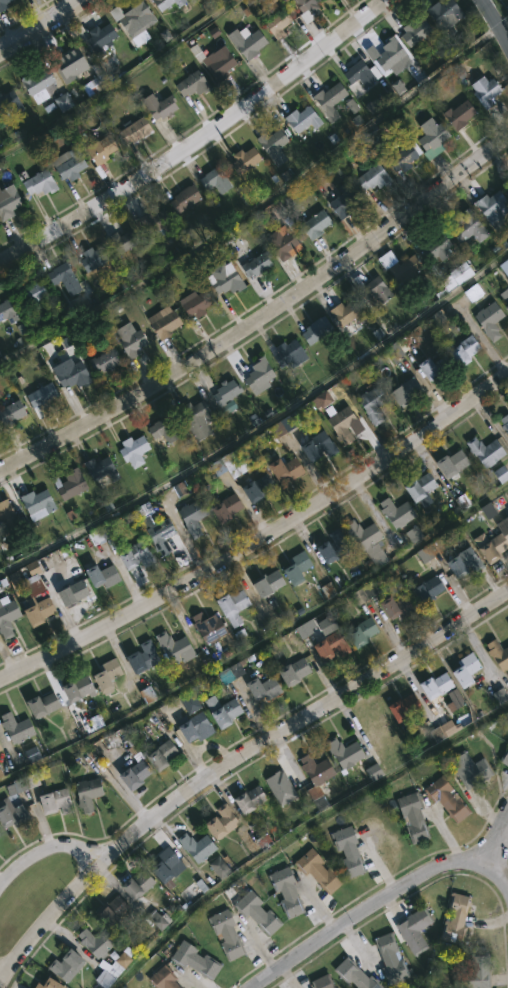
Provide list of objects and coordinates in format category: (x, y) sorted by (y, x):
building: (169, 4)
building: (4, 5)
building: (309, 9)
building: (446, 12)
road: (496, 20)
building: (136, 22)
building: (280, 23)
road: (40, 25)
building: (417, 30)
building: (165, 35)
building: (103, 37)
building: (249, 43)
building: (387, 52)
building: (71, 64)
building: (220, 64)
building: (361, 72)
building: (97, 83)
building: (39, 84)
building: (194, 84)
building: (397, 87)
building: (487, 90)
building: (332, 99)
building: (10, 102)
building: (63, 102)
building: (161, 105)
building: (351, 106)
building: (373, 106)
building: (462, 114)
building: (305, 118)
building: (137, 129)
building: (434, 137)
road: (199, 140)
building: (275, 145)
building: (104, 148)
building: (404, 158)
building: (246, 159)
building: (70, 163)
building: (375, 176)
building: (217, 180)
building: (507, 181)
building: (42, 182)
building: (187, 197)
building: (345, 199)
building: (9, 200)
building: (494, 205)
building: (158, 221)
building: (317, 224)
building: (471, 226)
building: (125, 240)
building: (283, 242)
building: (437, 245)
building: (95, 257)
building: (260, 263)
building: (505, 266)
building: (407, 269)
building: (460, 274)
building: (66, 277)
building: (227, 278)
building: (375, 290)
building: (473, 292)
building: (32, 293)
building: (505, 294)
building: (197, 303)
building: (8, 311)
building: (350, 311)
road: (262, 317)
building: (492, 319)
building: (166, 322)
building: (319, 330)
building: (132, 339)
building: (399, 347)
building: (467, 350)
building: (291, 354)
building: (106, 360)
building: (439, 367)
building: (73, 374)
building: (261, 375)
building: (408, 390)
building: (227, 394)
building: (43, 397)
building: (320, 400)
building: (374, 402)
building: (12, 413)
building: (198, 418)
building: (504, 422)
building: (343, 423)
building: (284, 425)
building: (166, 429)
building: (321, 446)
building: (135, 450)
building: (487, 450)
building: (455, 462)
building: (229, 464)
building: (288, 468)
building: (103, 469)
building: (500, 474)
building: (72, 483)
building: (423, 486)
building: (260, 487)
building: (180, 489)
building: (274, 502)
building: (39, 504)
building: (228, 507)
building: (487, 511)
building: (398, 512)
building: (194, 516)
building: (8, 518)
building: (503, 527)
building: (102, 534)
building: (163, 535)
building: (413, 535)
building: (368, 539)
building: (492, 542)
road: (261, 544)
building: (336, 546)
building: (424, 554)
building: (137, 555)
building: (467, 562)
building: (40, 566)
building: (300, 568)
building: (106, 575)
building: (32, 580)
building: (270, 583)
building: (431, 589)
building: (327, 590)
building: (75, 593)
building: (365, 594)
building: (235, 606)
building: (400, 607)
building: (39, 610)
building: (8, 616)
building: (326, 625)
building: (210, 627)
building: (305, 628)
building: (364, 632)
building: (333, 646)
building: (177, 647)
building: (499, 653)
building: (145, 657)
building: (469, 669)
building: (235, 671)
building: (296, 671)
building: (110, 674)
building: (439, 686)
building: (79, 688)
building: (266, 688)
building: (499, 696)
building: (454, 700)
building: (191, 702)
building: (45, 705)
building: (405, 706)
building: (224, 711)
building: (95, 722)
building: (199, 727)
building: (19, 728)
building: (443, 730)
building: (1, 748)
building: (346, 752)
building: (32, 754)
building: (164, 755)
building: (505, 758)
road: (231, 762)
building: (472, 769)
building: (138, 772)
building: (373, 772)
building: (0, 774)
building: (318, 778)
building: (21, 785)
building: (280, 788)
building: (89, 793)
building: (252, 799)
building: (448, 799)
building: (58, 802)
building: (14, 815)
building: (415, 816)
building: (224, 822)
road: (493, 838)
building: (262, 840)
building: (198, 846)
road: (46, 850)
building: (350, 852)
building: (170, 863)
building: (219, 868)
building: (320, 871)
building: (140, 885)
building: (288, 893)
road: (379, 903)
building: (114, 910)
building: (259, 912)
building: (457, 919)
building: (156, 920)
building: (416, 929)
building: (228, 934)
building: (98, 942)
building: (392, 958)
building: (196, 961)
building: (68, 966)
building: (114, 969)
building: (476, 973)
building: (356, 975)
road: (2, 976)
building: (164, 978)
building: (324, 982)
building: (51, 984)

